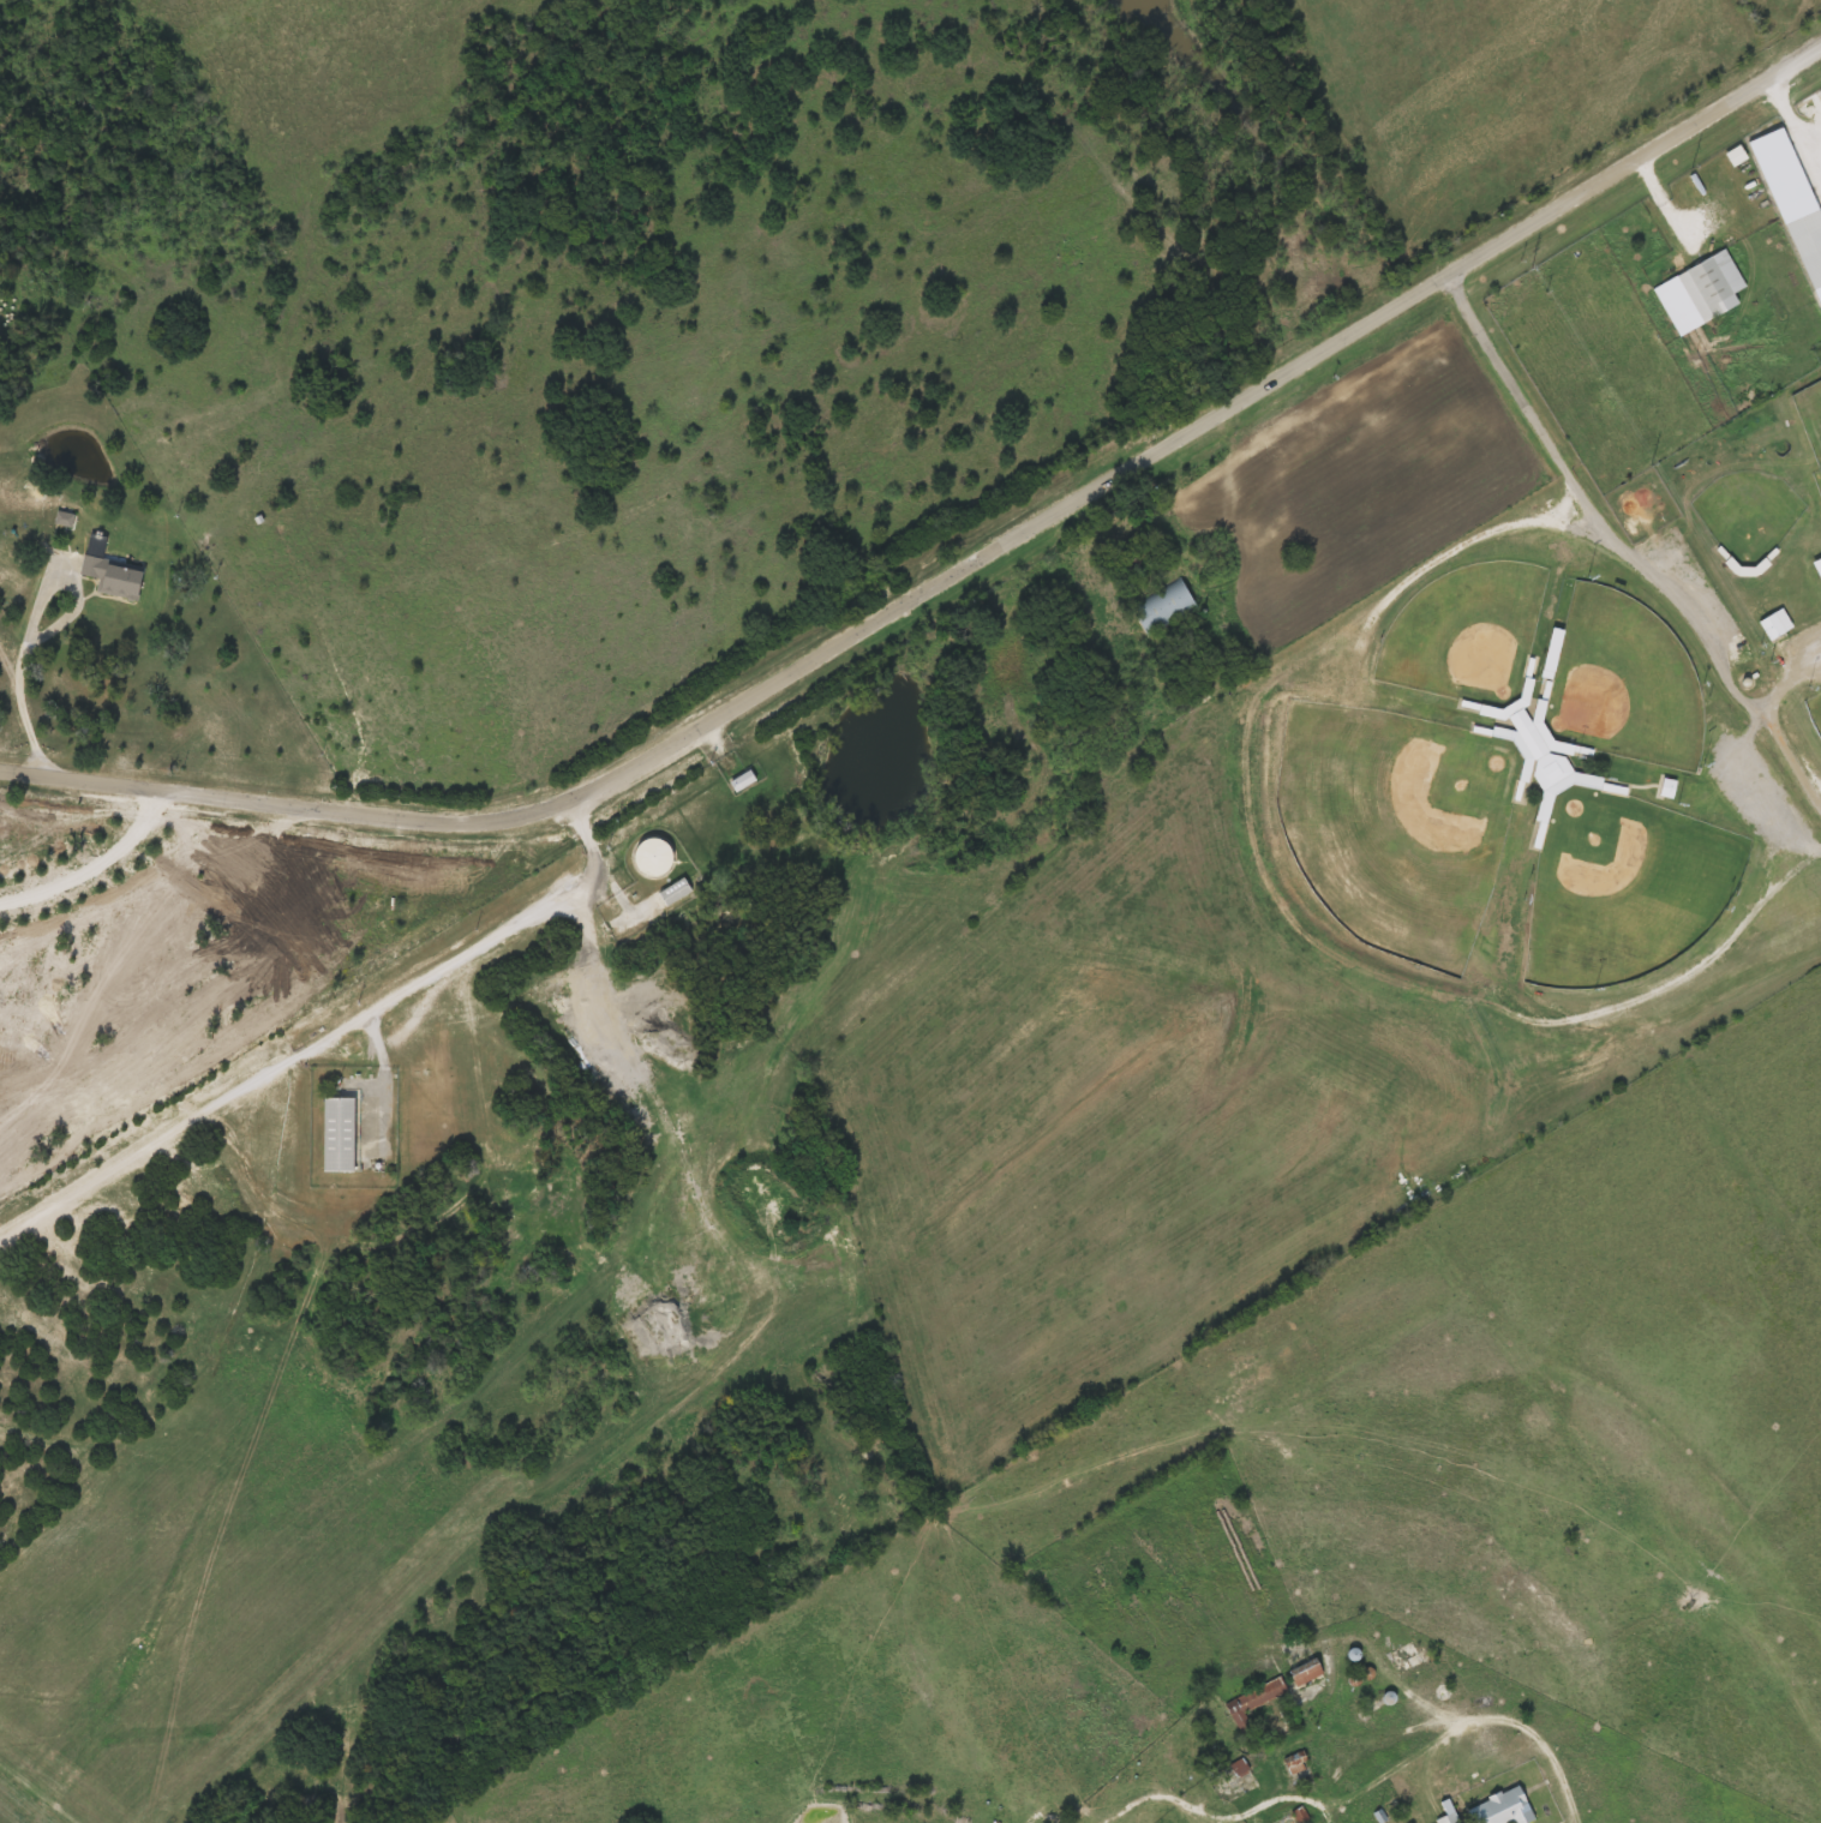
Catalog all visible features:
building: (1809, 245)
building: (1706, 288)
building: (65, 518)
road: (1624, 550)
road: (951, 575)
building: (115, 577)
building: (1164, 607)
building: (1773, 628)
building: (743, 780)
building: (1667, 788)
building: (654, 856)
storage tank: (654, 856)
building: (676, 889)
road: (622, 899)
road: (588, 984)
road: (328, 1031)
road: (385, 1075)
building: (340, 1132)
building: (1406, 1657)
building: (1307, 1673)
building: (1256, 1702)
road: (1500, 1719)
building: (1240, 1767)
building: (1299, 1767)
dam: (23, 1804)
building: (1504, 1806)
road: (1222, 1813)
road: (1044, 1815)
building: (1450, 1817)

